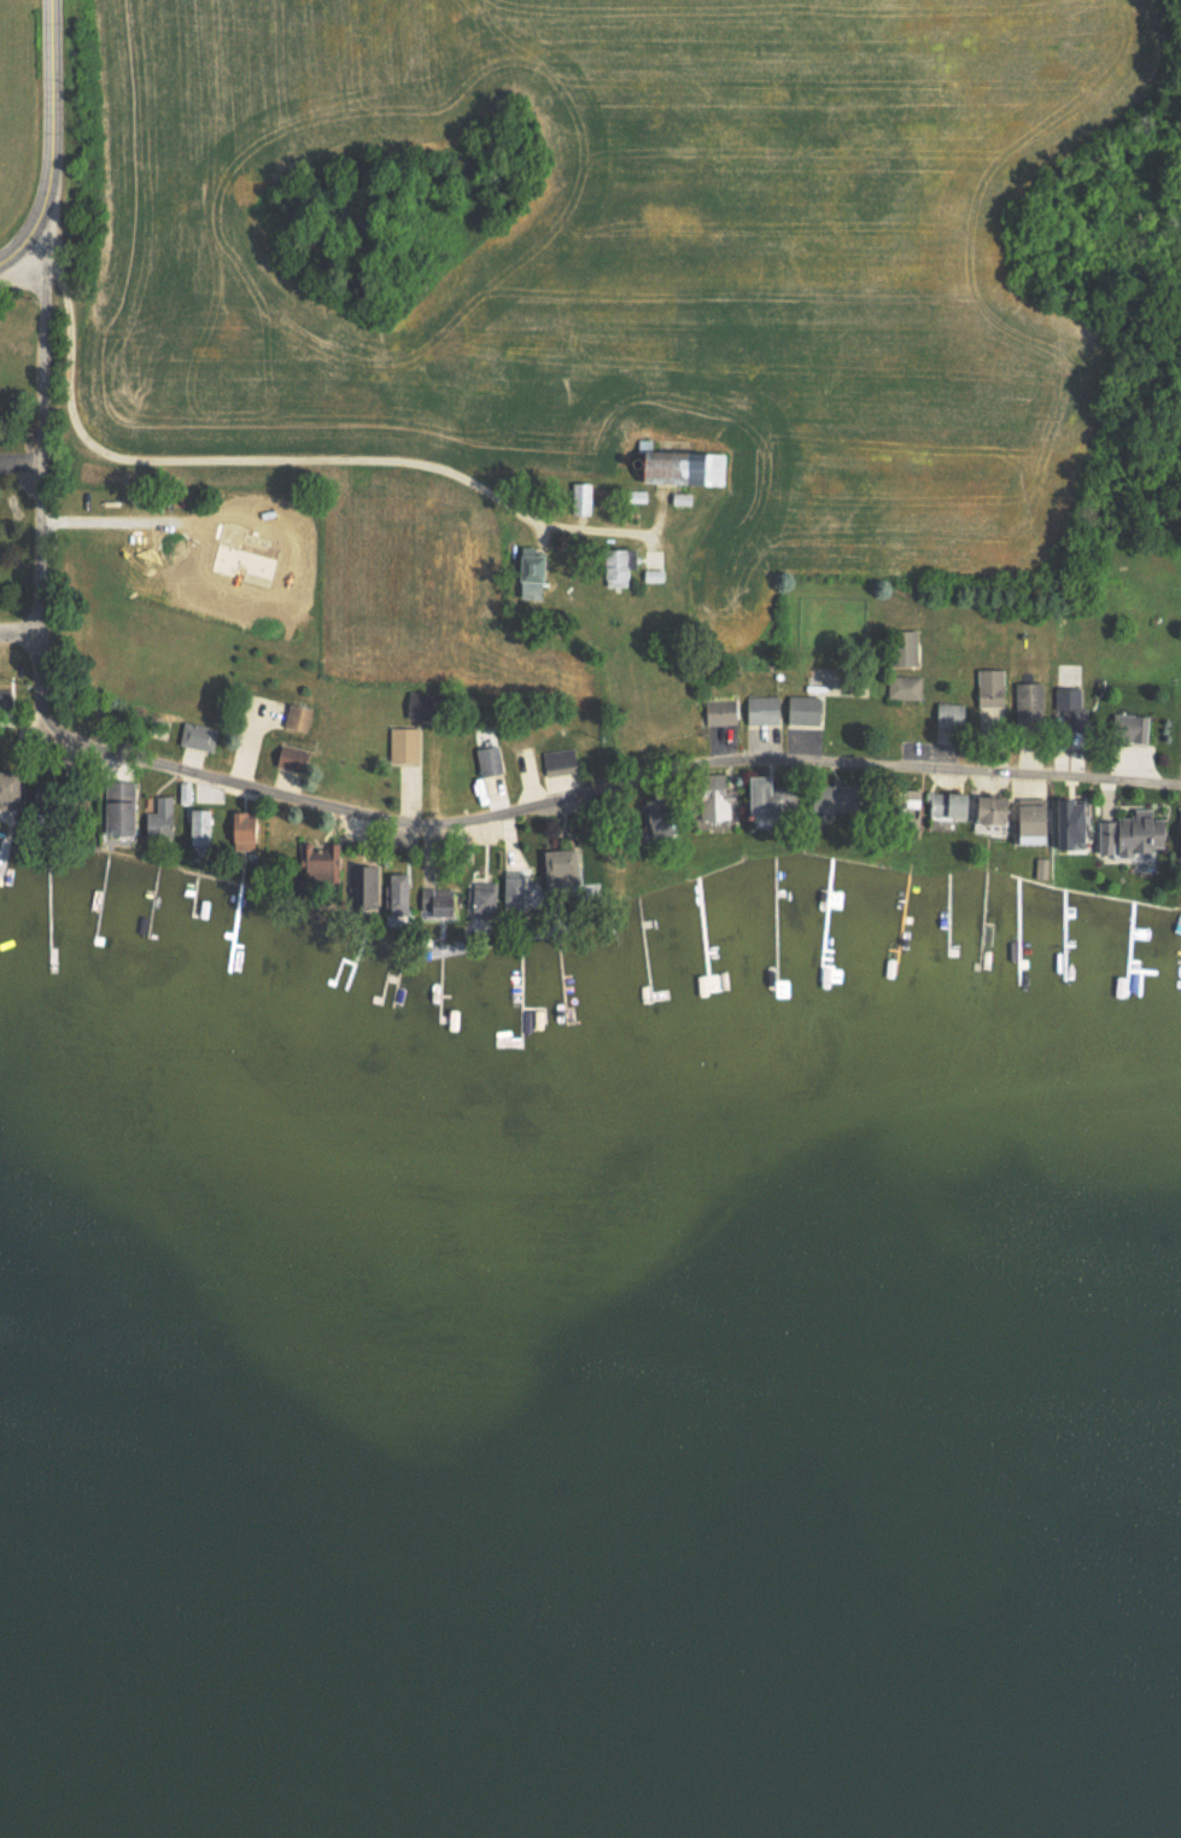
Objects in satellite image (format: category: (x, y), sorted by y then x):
road: (46, 140)
road: (42, 439)
building: (677, 467)
building: (578, 497)
building: (615, 565)
building: (526, 567)
building: (525, 590)
road: (18, 640)
building: (902, 646)
building: (904, 685)
building: (988, 687)
building: (1071, 707)
building: (761, 708)
building: (800, 708)
building: (717, 713)
building: (947, 713)
building: (294, 717)
building: (1128, 727)
building: (195, 735)
building: (403, 743)
building: (286, 757)
building: (486, 759)
building: (559, 762)
building: (7, 792)
building: (183, 792)
building: (824, 795)
building: (709, 797)
building: (758, 797)
road: (560, 801)
building: (943, 804)
building: (115, 807)
building: (987, 809)
building: (159, 815)
building: (900, 816)
building: (1024, 818)
building: (1063, 822)
building: (198, 824)
building: (240, 830)
building: (1179, 834)
building: (314, 863)
building: (559, 867)
building: (1040, 867)
building: (362, 881)
building: (394, 891)
building: (511, 891)
building: (480, 900)
building: (437, 902)

